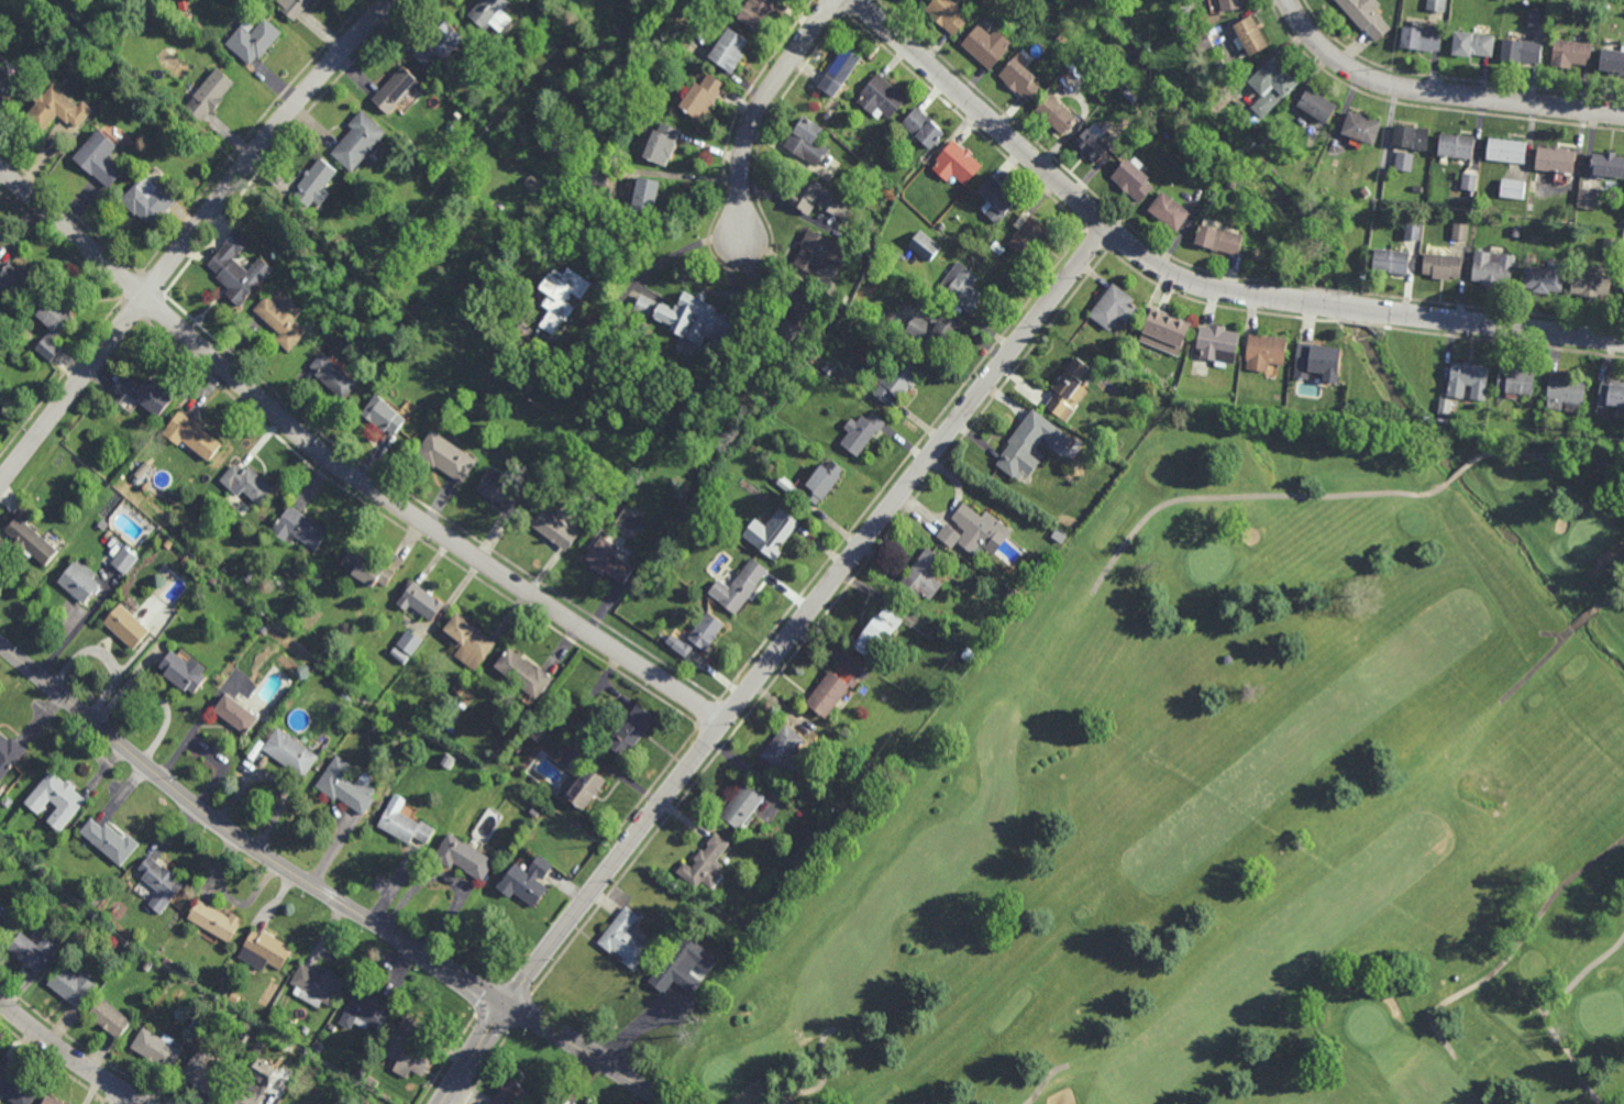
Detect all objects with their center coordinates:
building: (1026, 3)
building: (1435, 4)
building: (183, 5)
building: (541, 5)
building: (1227, 5)
building: (295, 8)
building: (756, 13)
building: (946, 15)
building: (1362, 15)
building: (490, 16)
building: (1537, 18)
park: (653, 26)
building: (674, 31)
building: (1246, 37)
building: (256, 40)
building: (1201, 40)
building: (1418, 40)
building: (1470, 46)
building: (441, 47)
building: (985, 47)
building: (728, 53)
building: (1520, 53)
building: (1569, 57)
building: (1612, 63)
building: (1220, 65)
building: (838, 73)
building: (1018, 79)
building: (1270, 86)
building: (8, 87)
building: (399, 88)
building: (466, 88)
road: (1438, 92)
building: (211, 95)
building: (700, 97)
building: (880, 98)
building: (1315, 106)
road: (760, 108)
building: (58, 110)
road: (981, 113)
building: (1053, 115)
building: (623, 117)
building: (827, 118)
building: (1359, 129)
building: (923, 130)
road: (251, 133)
building: (1410, 139)
building: (1264, 141)
building: (364, 142)
building: (806, 143)
building: (660, 145)
building: (1090, 147)
building: (1455, 147)
building: (1185, 148)
building: (1193, 152)
building: (1505, 153)
building: (102, 161)
building: (1403, 161)
building: (1554, 161)
building: (954, 166)
building: (1608, 167)
building: (598, 174)
building: (1131, 180)
building: (1468, 181)
building: (1231, 183)
building: (318, 184)
building: (544, 187)
building: (1416, 188)
building: (1511, 188)
building: (1365, 191)
building: (642, 199)
building: (1587, 199)
building: (152, 200)
building: (811, 200)
building: (994, 201)
building: (1381, 208)
road: (69, 210)
building: (1168, 212)
road: (1096, 220)
building: (1413, 230)
building: (1458, 231)
building: (1515, 231)
building: (1024, 235)
road: (187, 236)
building: (852, 238)
road: (1117, 238)
road: (1096, 240)
building: (1218, 241)
building: (924, 244)
building: (1610, 245)
road: (59, 246)
building: (410, 246)
building: (996, 246)
road: (681, 251)
building: (820, 252)
building: (1390, 263)
building: (1441, 266)
building: (241, 269)
building: (1492, 269)
road: (1203, 271)
building: (1543, 278)
building: (21, 279)
building: (366, 280)
road: (152, 283)
road: (130, 286)
building: (1590, 286)
building: (960, 289)
building: (561, 297)
building: (1623, 297)
road: (155, 307)
road: (1357, 307)
road: (132, 310)
building: (1113, 310)
building: (57, 316)
building: (685, 317)
building: (890, 317)
building: (285, 321)
building: (793, 322)
road: (1358, 323)
building: (937, 330)
building: (1162, 333)
building: (507, 335)
building: (1216, 345)
building: (520, 346)
building: (1263, 353)
building: (1315, 364)
road: (59, 378)
building: (332, 378)
building: (1467, 382)
building: (896, 383)
building: (1515, 383)
building: (531, 386)
building: (1068, 391)
building: (1564, 391)
building: (143, 394)
building: (596, 396)
building: (1610, 396)
building: (1445, 407)
building: (380, 417)
building: (1441, 420)
building: (1580, 420)
building: (860, 432)
building: (194, 437)
building: (1531, 440)
building: (1018, 453)
building: (444, 457)
road: (345, 465)
road: (902, 465)
building: (639, 477)
building: (821, 483)
building: (244, 485)
building: (494, 490)
road: (431, 509)
building: (244, 510)
building: (104, 525)
building: (553, 530)
building: (298, 531)
road: (411, 536)
building: (769, 536)
building: (986, 539)
building: (29, 542)
building: (153, 548)
building: (125, 559)
building: (186, 561)
building: (608, 562)
building: (366, 568)
building: (224, 571)
building: (248, 575)
building: (1029, 575)
building: (920, 577)
building: (213, 578)
building: (77, 583)
building: (1021, 584)
building: (739, 588)
road: (1609, 595)
building: (1016, 599)
building: (420, 603)
road: (1583, 618)
road: (818, 621)
road: (78, 627)
building: (124, 627)
building: (265, 628)
building: (875, 632)
road: (1554, 634)
building: (696, 637)
building: (409, 641)
building: (468, 642)
building: (399, 654)
road: (769, 661)
road: (1537, 664)
building: (179, 674)
building: (521, 675)
building: (346, 685)
building: (459, 687)
building: (831, 688)
building: (462, 706)
road: (730, 710)
road: (707, 713)
building: (233, 715)
building: (630, 728)
building: (539, 735)
road: (710, 735)
building: (259, 747)
building: (782, 747)
building: (288, 752)
building: (10, 754)
building: (472, 777)
road: (655, 780)
building: (345, 786)
building: (584, 788)
park: (1260, 798)
building: (7, 801)
building: (54, 802)
building: (741, 807)
building: (534, 813)
building: (401, 821)
road: (632, 841)
building: (108, 842)
building: (461, 857)
building: (705, 865)
building: (524, 881)
building: (158, 884)
road: (322, 891)
building: (93, 901)
building: (2, 915)
building: (214, 920)
building: (79, 932)
building: (625, 938)
road: (1514, 948)
building: (32, 951)
building: (263, 952)
building: (167, 960)
building: (147, 964)
building: (680, 967)
building: (318, 984)
building: (70, 986)
building: (225, 993)
building: (234, 996)
traffic signals: (509, 1004)
building: (367, 1008)
road: (1544, 1009)
road: (519, 1013)
building: (346, 1015)
building: (108, 1018)
building: (195, 1020)
road: (491, 1022)
building: (305, 1029)
building: (247, 1036)
road: (82, 1047)
building: (153, 1049)
building: (251, 1049)
building: (406, 1051)
road: (69, 1056)
road: (448, 1058)
road: (51, 1063)
road: (486, 1068)
building: (201, 1072)
building: (361, 1073)
building: (372, 1081)
road: (114, 1086)
building: (14, 1088)
building: (512, 1095)
road: (145, 1096)
building: (246, 1096)
road: (126, 1099)
building: (356, 1101)
building: (47, 1102)
road: (104, 1102)
road: (110, 1102)
road: (102, 1103)

